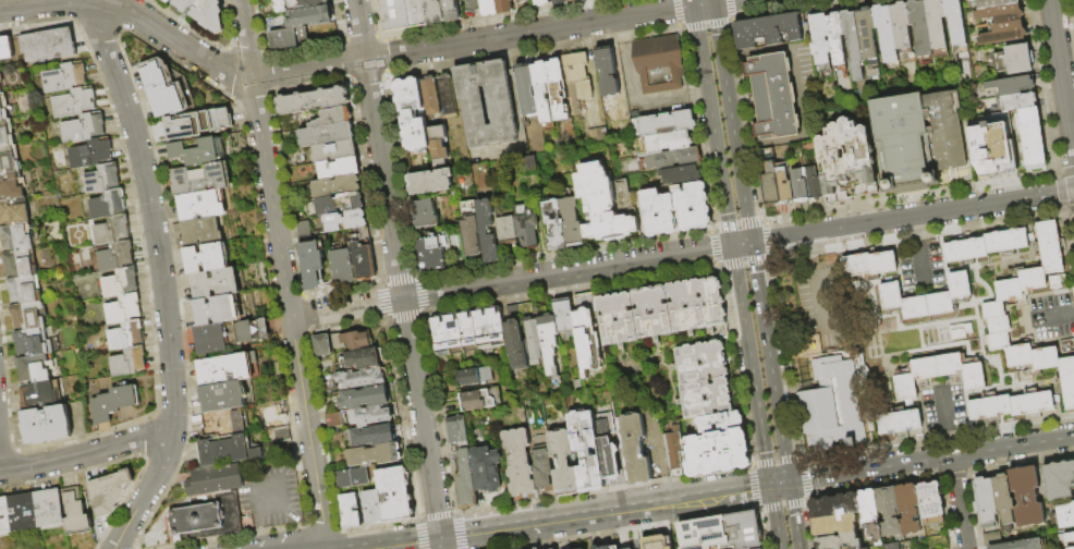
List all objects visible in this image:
building: (574, 0)
building: (973, 0)
building: (168, 1)
building: (561, 1)
road: (723, 1)
building: (522, 2)
building: (542, 2)
road: (711, 2)
building: (996, 2)
road: (693, 3)
building: (298, 4)
traffic signals: (712, 4)
building: (473, 5)
building: (503, 5)
road: (703, 5)
building: (488, 7)
traffic signals: (694, 7)
building: (452, 10)
building: (204, 12)
building: (436, 12)
road: (134, 13)
building: (404, 14)
power substation: (404, 14)
building: (1002, 14)
building: (310, 17)
building: (902, 27)
building: (769, 30)
building: (922, 30)
building: (959, 32)
building: (1004, 33)
building: (852, 35)
building: (887, 35)
building: (289, 38)
building: (837, 40)
building: (869, 40)
road: (473, 42)
building: (821, 42)
building: (47, 45)
building: (5, 48)
road: (1066, 52)
building: (1014, 59)
building: (659, 64)
building: (857, 72)
building: (606, 73)
road: (1061, 74)
road: (723, 76)
building: (64, 77)
road: (800, 77)
building: (1, 78)
building: (577, 80)
building: (168, 88)
building: (558, 89)
building: (0, 90)
building: (527, 90)
building: (542, 90)
building: (1015, 93)
building: (447, 95)
building: (430, 96)
building: (773, 96)
building: (313, 100)
building: (73, 102)
building: (3, 108)
building: (502, 112)
building: (413, 113)
building: (333, 118)
building: (667, 123)
building: (199, 124)
road: (712, 125)
building: (83, 129)
building: (947, 129)
building: (7, 134)
building: (326, 135)
building: (598, 137)
building: (1032, 138)
building: (669, 142)
road: (786, 142)
building: (438, 143)
building: (904, 143)
building: (991, 148)
road: (379, 149)
building: (334, 151)
building: (199, 152)
building: (90, 154)
building: (678, 158)
building: (9, 159)
building: (768, 161)
building: (847, 161)
building: (530, 166)
building: (339, 169)
building: (681, 174)
building: (101, 179)
building: (202, 180)
building: (430, 182)
building: (800, 183)
building: (814, 184)
building: (12, 185)
building: (337, 186)
building: (785, 186)
building: (771, 190)
road: (742, 195)
building: (340, 204)
building: (606, 204)
building: (107, 205)
building: (202, 206)
building: (676, 209)
building: (14, 211)
road: (940, 211)
building: (426, 213)
traffic signals: (727, 213)
building: (345, 221)
building: (573, 222)
building: (556, 225)
building: (526, 227)
building: (471, 229)
building: (111, 230)
building: (507, 230)
building: (203, 232)
building: (487, 232)
building: (16, 237)
road: (779, 237)
traffic signals: (770, 240)
building: (1005, 240)
road: (741, 243)
road: (810, 247)
building: (1049, 247)
traffic signals: (709, 249)
building: (964, 249)
building: (431, 253)
building: (115, 256)
building: (312, 256)
building: (207, 258)
building: (364, 260)
building: (881, 263)
building: (21, 264)
building: (855, 265)
building: (343, 266)
traffic signals: (756, 272)
road: (282, 273)
road: (161, 277)
building: (1032, 279)
road: (511, 281)
building: (120, 282)
building: (217, 283)
building: (959, 283)
building: (1008, 289)
building: (25, 290)
building: (890, 295)
building: (712, 302)
building: (939, 303)
road: (820, 304)
building: (696, 306)
building: (914, 306)
building: (122, 309)
building: (992, 309)
building: (216, 310)
building: (651, 314)
building: (563, 315)
road: (1062, 315)
building: (29, 316)
building: (627, 319)
building: (998, 325)
building: (587, 332)
building: (468, 333)
building: (125, 335)
building: (230, 335)
building: (352, 340)
building: (998, 340)
building: (533, 341)
building: (35, 342)
building: (548, 342)
building: (322, 345)
building: (515, 345)
road: (767, 351)
building: (1018, 355)
building: (364, 358)
building: (1045, 358)
building: (127, 362)
building: (687, 362)
road: (750, 365)
building: (949, 365)
building: (925, 367)
building: (35, 368)
building: (229, 369)
building: (279, 369)
building: (973, 376)
building: (362, 378)
building: (469, 378)
building: (1066, 381)
building: (576, 383)
building: (904, 386)
building: (41, 395)
building: (223, 396)
building: (365, 398)
building: (692, 398)
building: (480, 400)
building: (113, 402)
building: (830, 403)
building: (1032, 403)
building: (989, 406)
building: (371, 416)
road: (420, 418)
building: (335, 419)
building: (719, 422)
building: (899, 422)
building: (227, 423)
building: (46, 425)
building: (456, 430)
building: (279, 434)
building: (373, 436)
building: (635, 449)
building: (229, 450)
building: (673, 450)
building: (586, 451)
building: (717, 452)
road: (88, 453)
building: (375, 454)
building: (608, 457)
road: (931, 459)
building: (517, 462)
building: (541, 463)
building: (563, 463)
building: (486, 469)
road: (786, 471)
building: (361, 476)
road: (284, 478)
building: (344, 479)
building: (1058, 479)
building: (216, 480)
building: (465, 480)
traffic signals: (789, 483)
road: (779, 484)
traffic signals: (770, 486)
road: (732, 490)
building: (108, 492)
building: (395, 493)
building: (1025, 497)
building: (1003, 499)
road: (957, 502)
building: (985, 502)
building: (930, 503)
building: (833, 505)
building: (50, 508)
building: (373, 508)
building: (908, 509)
building: (351, 510)
building: (24, 512)
building: (889, 512)
building: (75, 514)
building: (1064, 514)
road: (794, 515)
building: (4, 516)
building: (869, 516)
road: (569, 517)
road: (774, 517)
building: (209, 518)
building: (834, 525)
road: (258, 532)
building: (722, 532)
building: (1065, 537)
traffic signals: (441, 538)
building: (992, 538)
building: (655, 541)
building: (839, 542)
road: (406, 544)
road: (441, 544)
building: (1020, 545)
building: (893, 546)
building: (603, 547)
building: (538, 548)
building: (630, 548)
building: (1071, 548)

